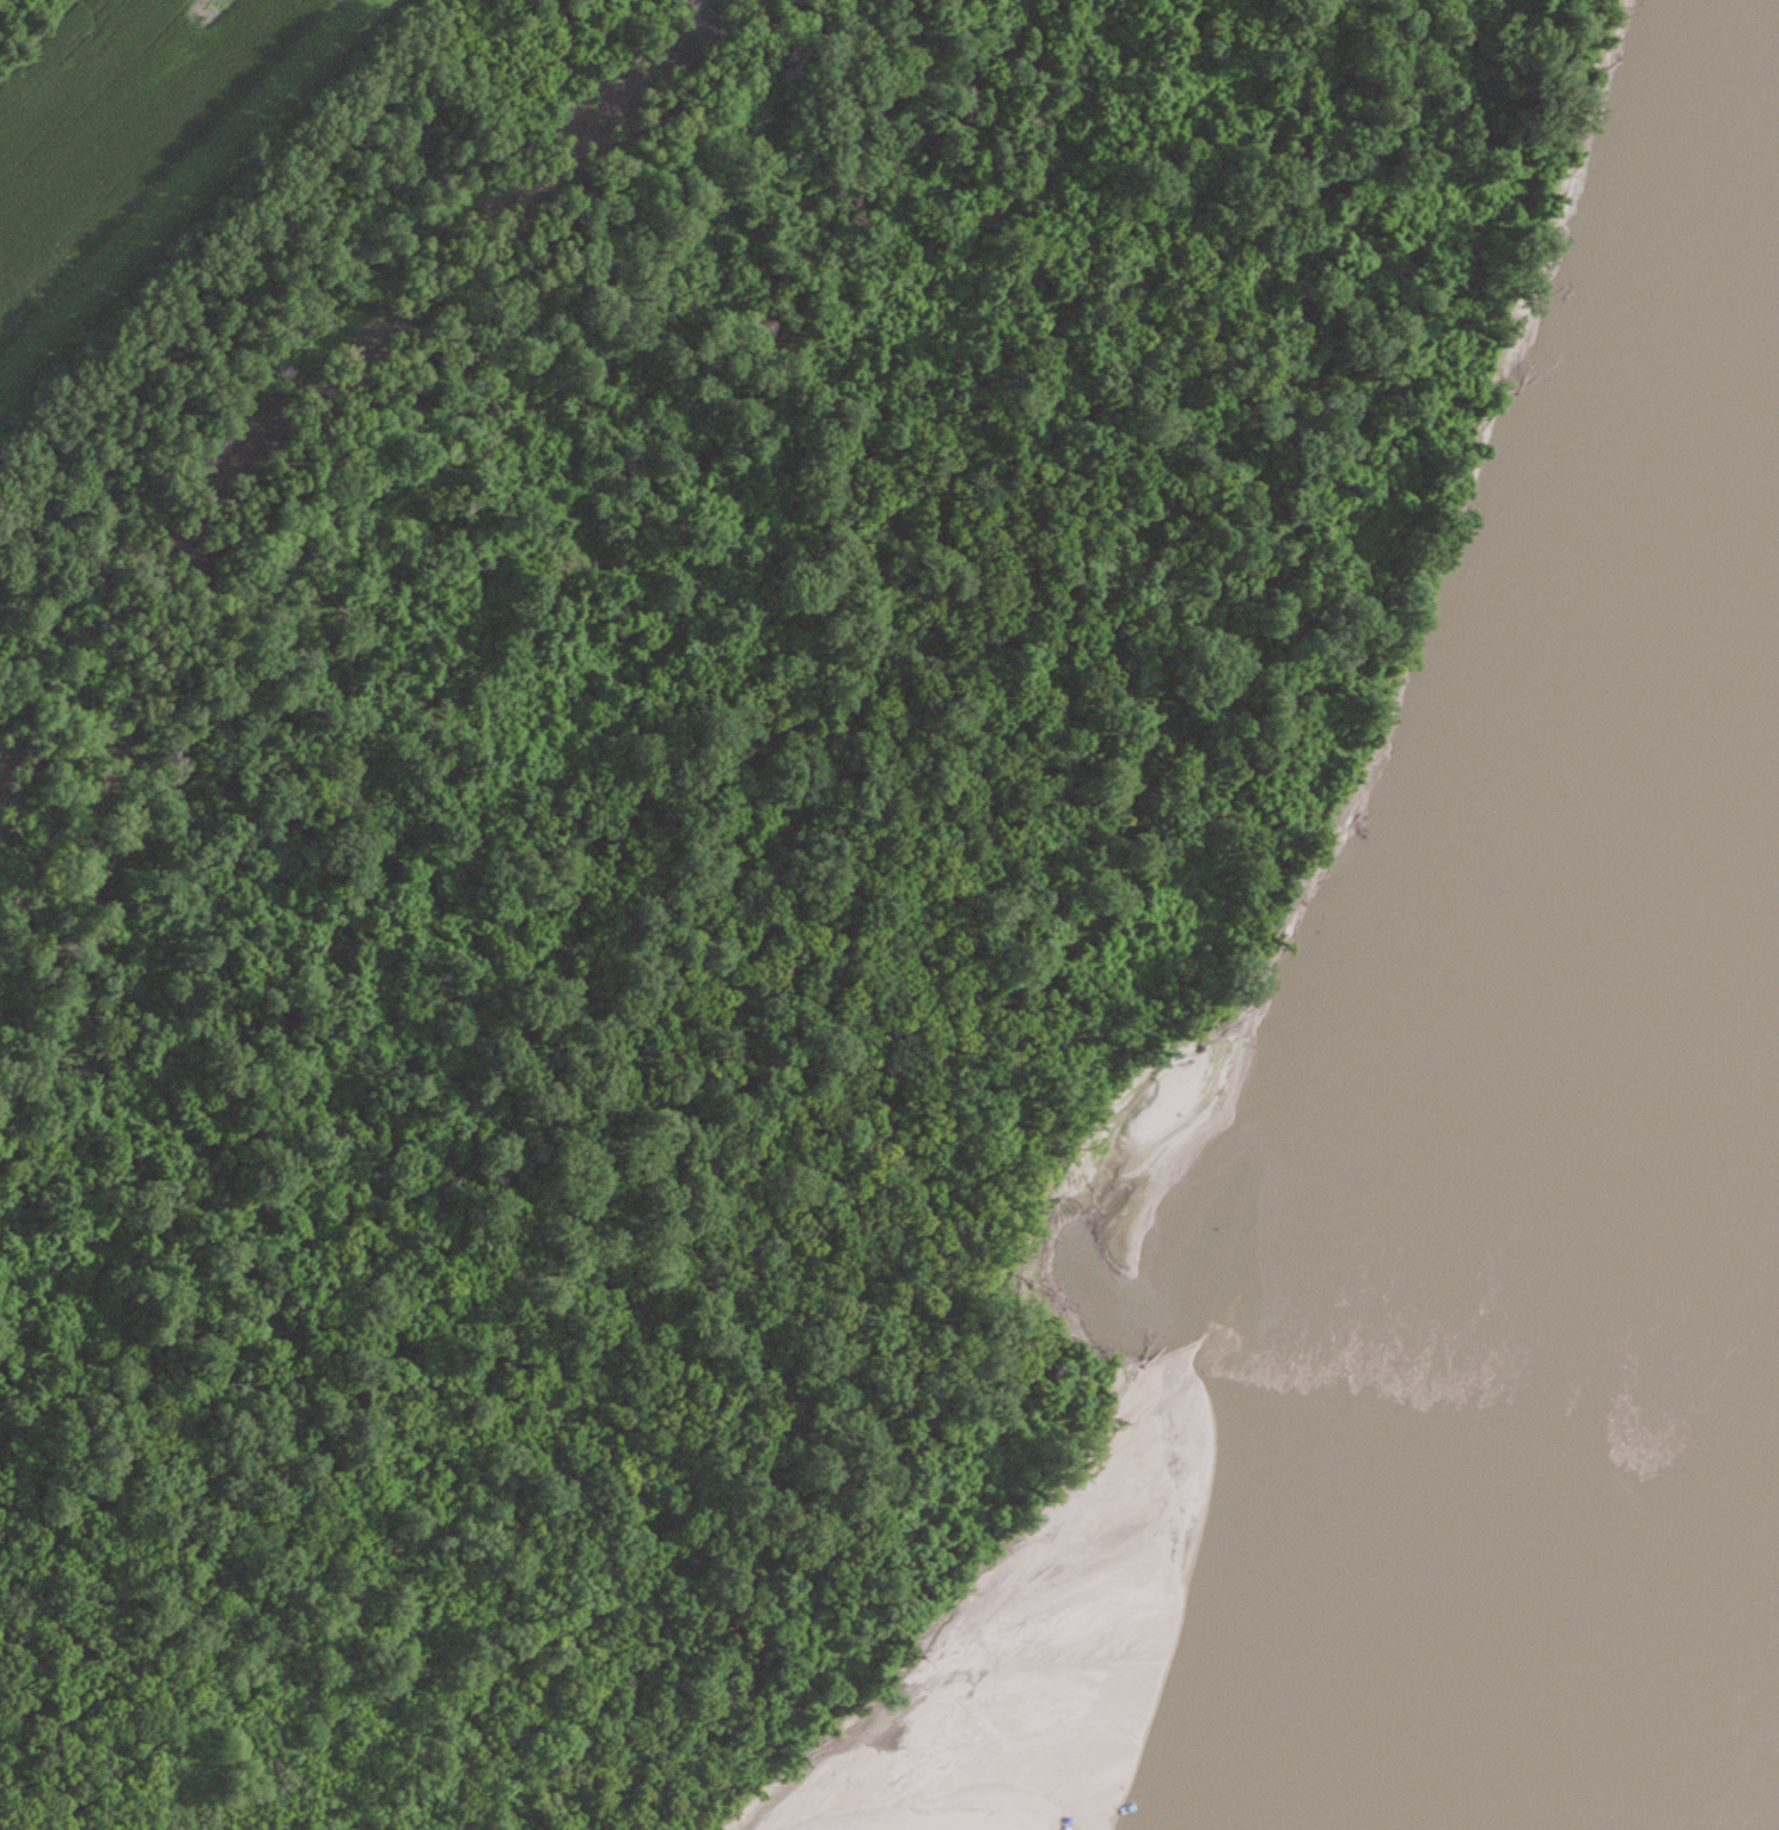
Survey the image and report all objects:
river: (1734, 1673)

